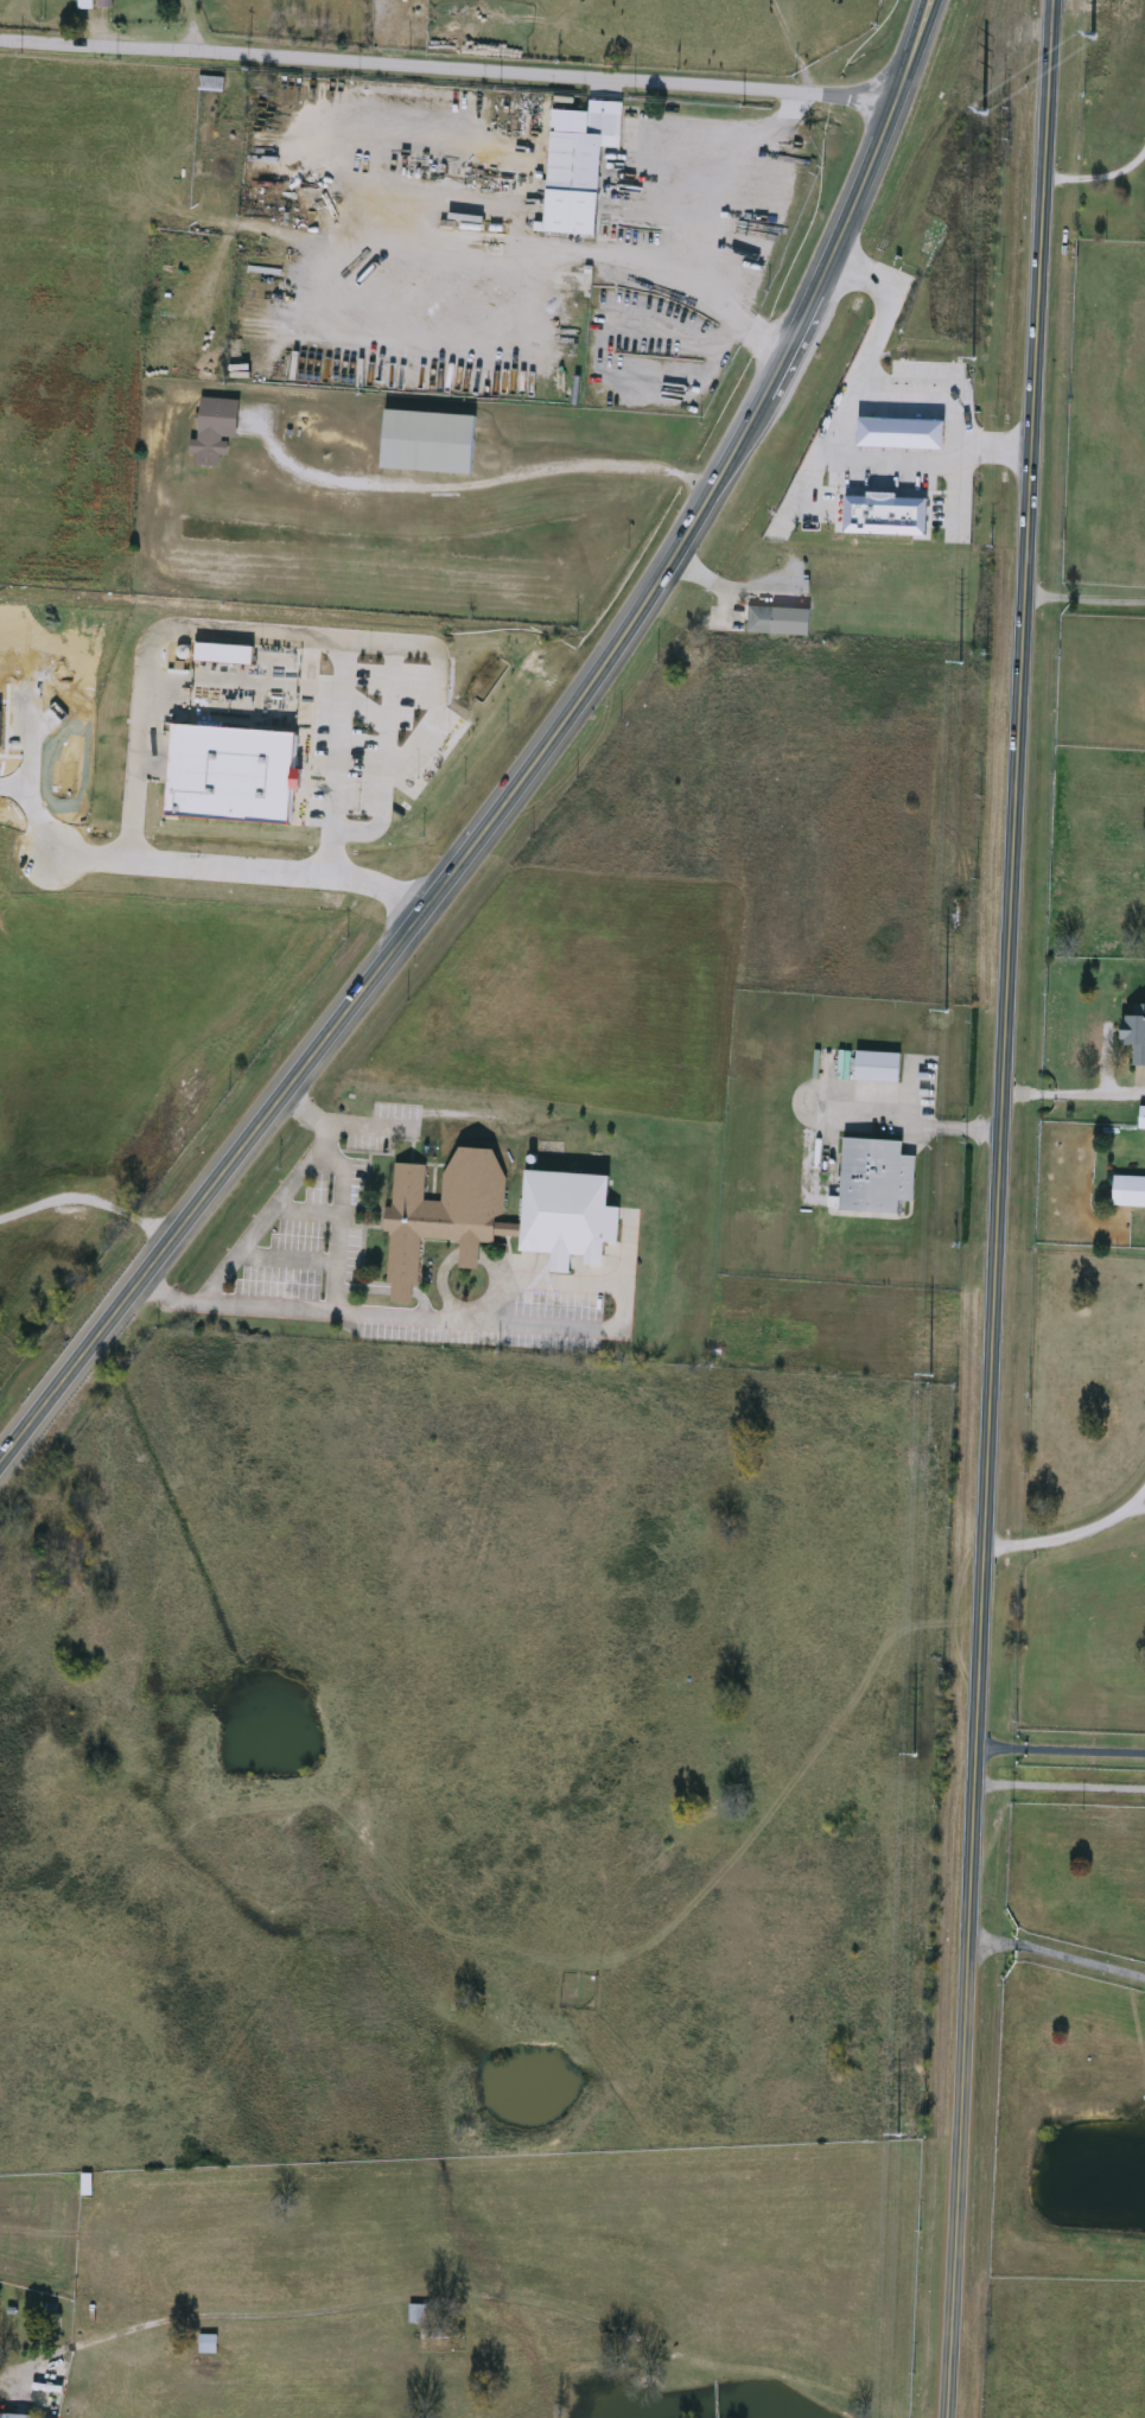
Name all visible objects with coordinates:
road: (449, 66)
building: (212, 85)
building: (580, 166)
road: (1093, 176)
building: (216, 431)
building: (430, 443)
road: (990, 444)
road: (847, 460)
road: (477, 483)
road: (803, 490)
road: (954, 494)
building: (863, 508)
road: (724, 590)
road: (1081, 599)
building: (780, 623)
road: (252, 632)
road: (367, 707)
road: (430, 726)
road: (363, 746)
road: (528, 766)
road: (382, 820)
road: (240, 871)
building: (1136, 1036)
building: (878, 1069)
road: (1074, 1093)
building: (1143, 1120)
road: (914, 1121)
building: (877, 1178)
road: (339, 1189)
building: (1130, 1194)
road: (87, 1200)
road: (998, 1209)
building: (444, 1216)
road: (257, 1226)
road: (374, 1318)
building: (698, 1515)
road: (1073, 1533)
road: (1061, 1750)
road: (1056, 1955)
building: (421, 2316)
building: (209, 2346)
road: (13, 2369)
building: (7, 2417)

